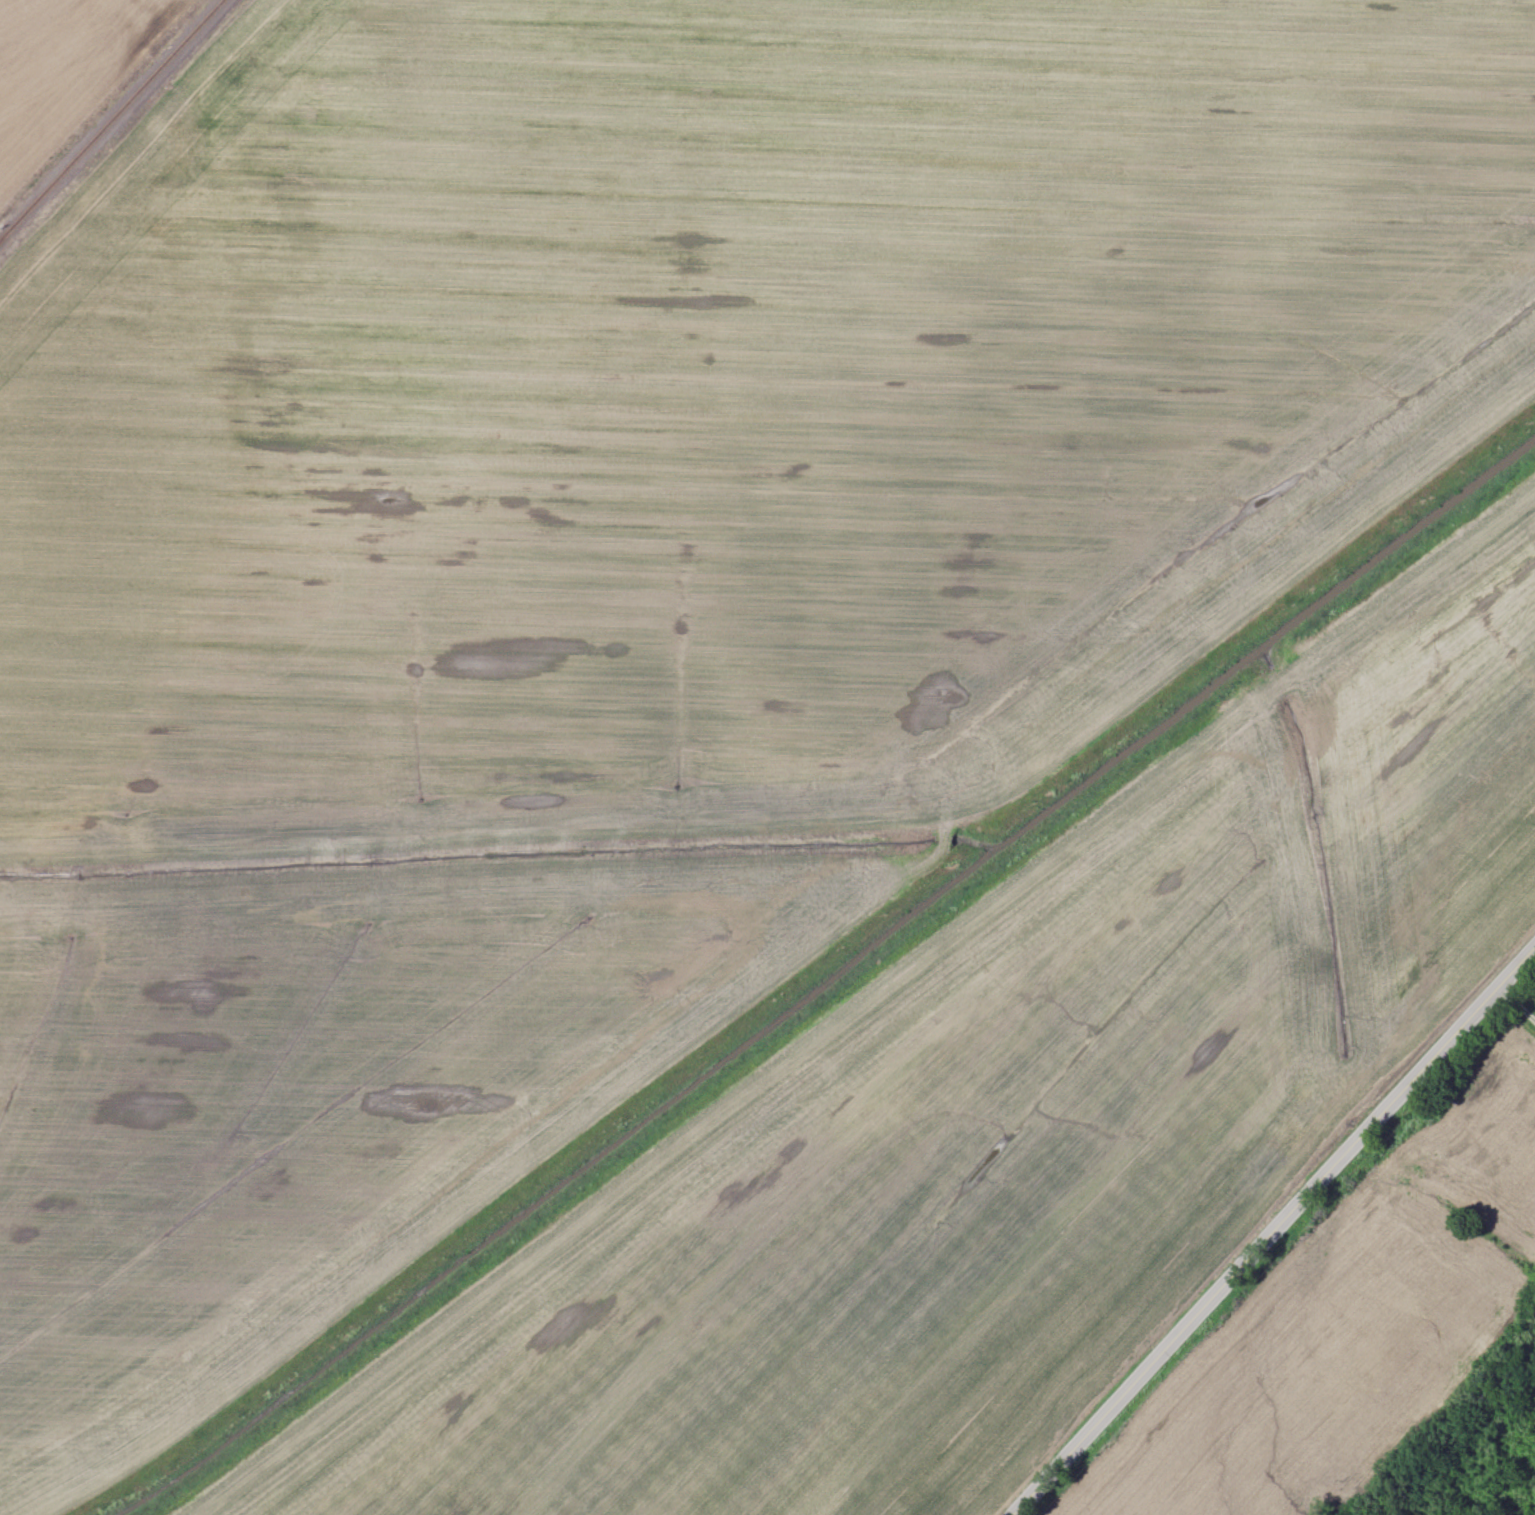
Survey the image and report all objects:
crop: (63, 69)
railway: (106, 114)
crop: (629, 564)
road: (1514, 1002)
crop: (997, 1128)
road: (1268, 1226)
crop: (1341, 1333)

